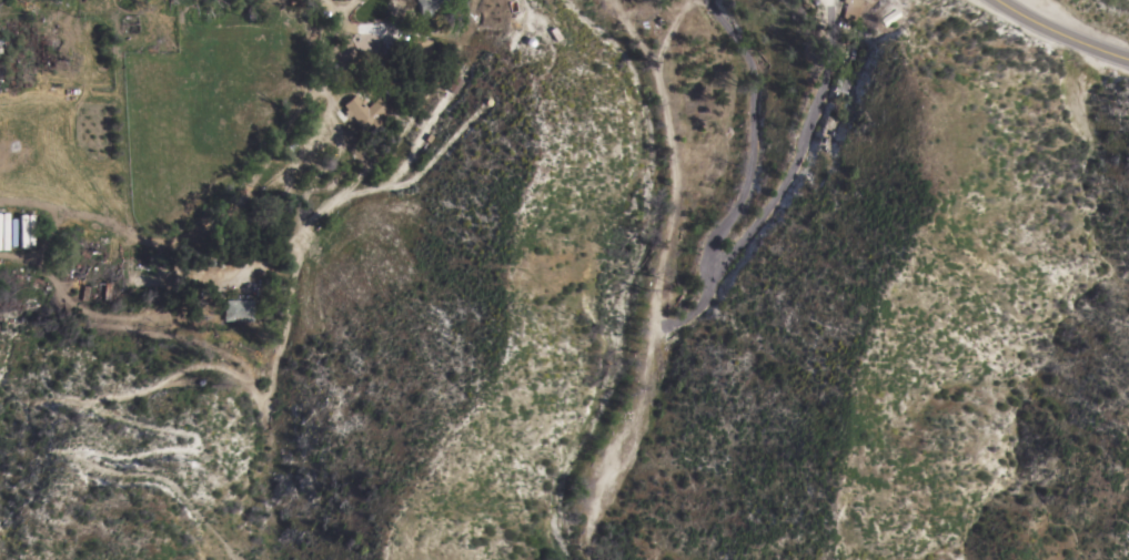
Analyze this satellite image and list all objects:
building: (429, 6)
building: (850, 8)
building: (658, 19)
road: (560, 20)
building: (151, 28)
road: (1059, 35)
building: (168, 38)
building: (422, 50)
building: (19, 52)
building: (43, 53)
crop: (212, 81)
building: (454, 82)
building: (843, 83)
building: (364, 110)
road: (750, 140)
road: (779, 183)
building: (239, 308)

